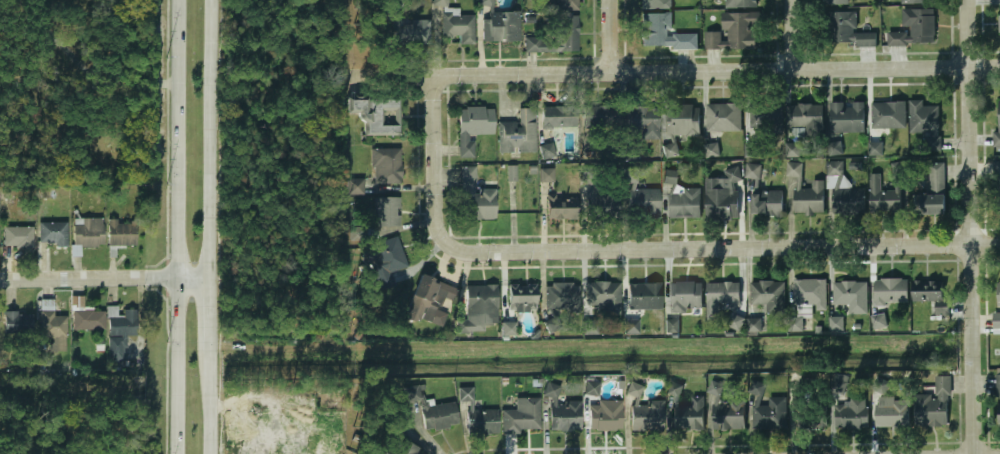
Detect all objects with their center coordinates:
building: (918, 2)
building: (835, 3)
building: (655, 4)
building: (740, 4)
building: (565, 5)
building: (455, 23)
building: (489, 23)
building: (999, 25)
building: (509, 27)
building: (915, 28)
building: (417, 31)
building: (845, 31)
building: (733, 33)
building: (663, 34)
road: (795, 34)
road: (613, 36)
building: (557, 38)
road: (84, 64)
road: (674, 71)
building: (377, 115)
building: (599, 116)
building: (847, 116)
building: (887, 116)
building: (558, 117)
building: (766, 117)
building: (723, 118)
building: (806, 118)
building: (682, 120)
building: (642, 121)
building: (924, 123)
building: (998, 124)
building: (472, 126)
building: (517, 134)
road: (437, 137)
road: (211, 138)
building: (835, 148)
building: (876, 149)
building: (547, 150)
building: (712, 150)
building: (751, 150)
building: (794, 150)
building: (386, 166)
building: (996, 170)
building: (752, 171)
building: (512, 173)
building: (833, 173)
building: (547, 175)
building: (358, 186)
building: (934, 192)
building: (806, 193)
building: (722, 196)
building: (474, 198)
building: (681, 198)
building: (884, 198)
building: (997, 198)
building: (849, 201)
building: (643, 203)
building: (767, 203)
building: (605, 204)
building: (562, 207)
building: (386, 210)
road: (178, 226)
road: (972, 227)
building: (54, 233)
building: (88, 233)
building: (121, 233)
building: (18, 236)
road: (699, 249)
building: (387, 260)
road: (104, 276)
building: (889, 292)
building: (809, 293)
building: (931, 295)
building: (603, 296)
building: (643, 296)
building: (685, 296)
building: (768, 296)
building: (850, 296)
building: (722, 297)
building: (522, 298)
building: (561, 298)
building: (430, 302)
building: (479, 305)
road: (209, 313)
building: (84, 317)
building: (18, 321)
building: (736, 322)
building: (837, 323)
building: (996, 323)
building: (796, 324)
building: (755, 325)
building: (53, 326)
building: (631, 326)
building: (673, 326)
building: (590, 327)
building: (509, 328)
building: (119, 331)
building: (839, 384)
building: (882, 386)
building: (592, 388)
building: (998, 397)
road: (208, 402)
building: (934, 406)
building: (688, 413)
building: (772, 413)
building: (893, 413)
building: (729, 414)
building: (852, 414)
building: (565, 415)
building: (605, 415)
building: (811, 415)
building: (439, 416)
building: (522, 416)
building: (646, 416)
building: (481, 422)
building: (403, 447)

